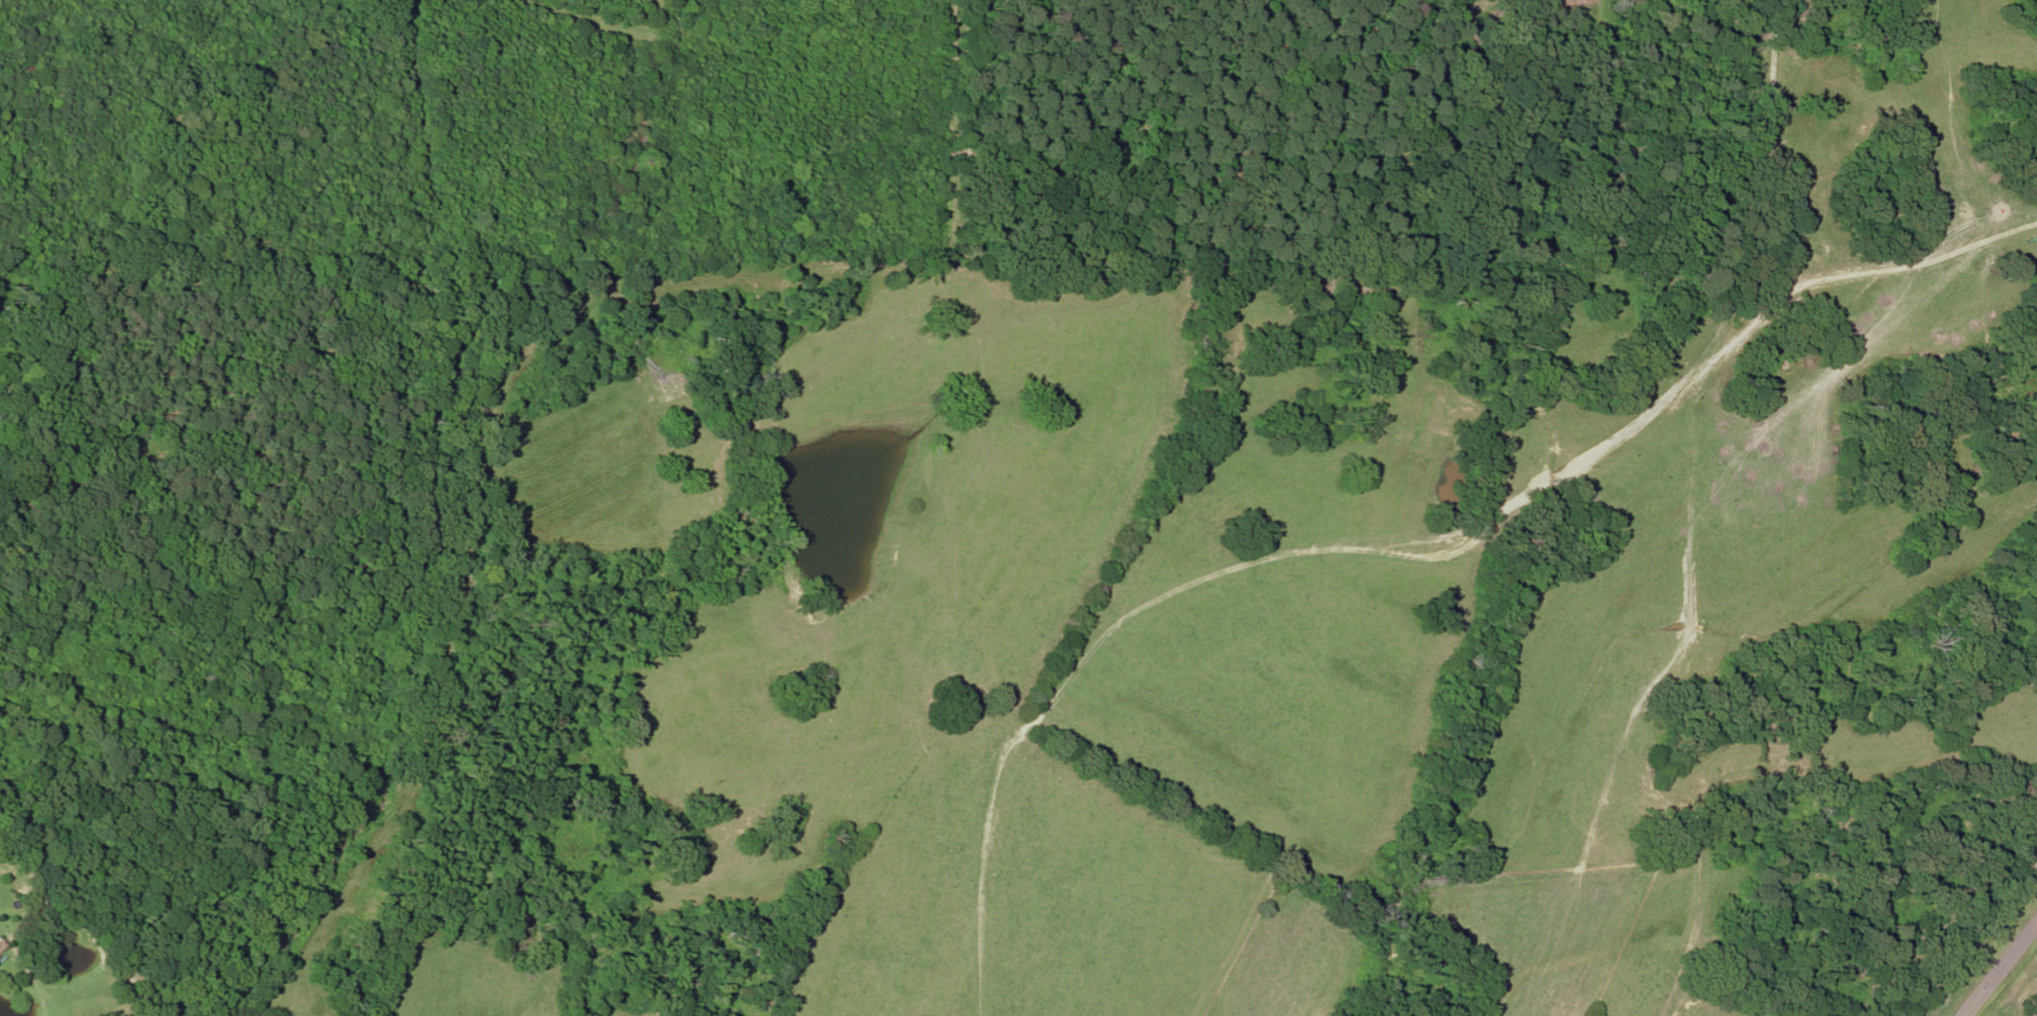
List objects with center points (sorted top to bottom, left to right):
road: (1823, 461)
building: (0, 947)
road: (1998, 967)

